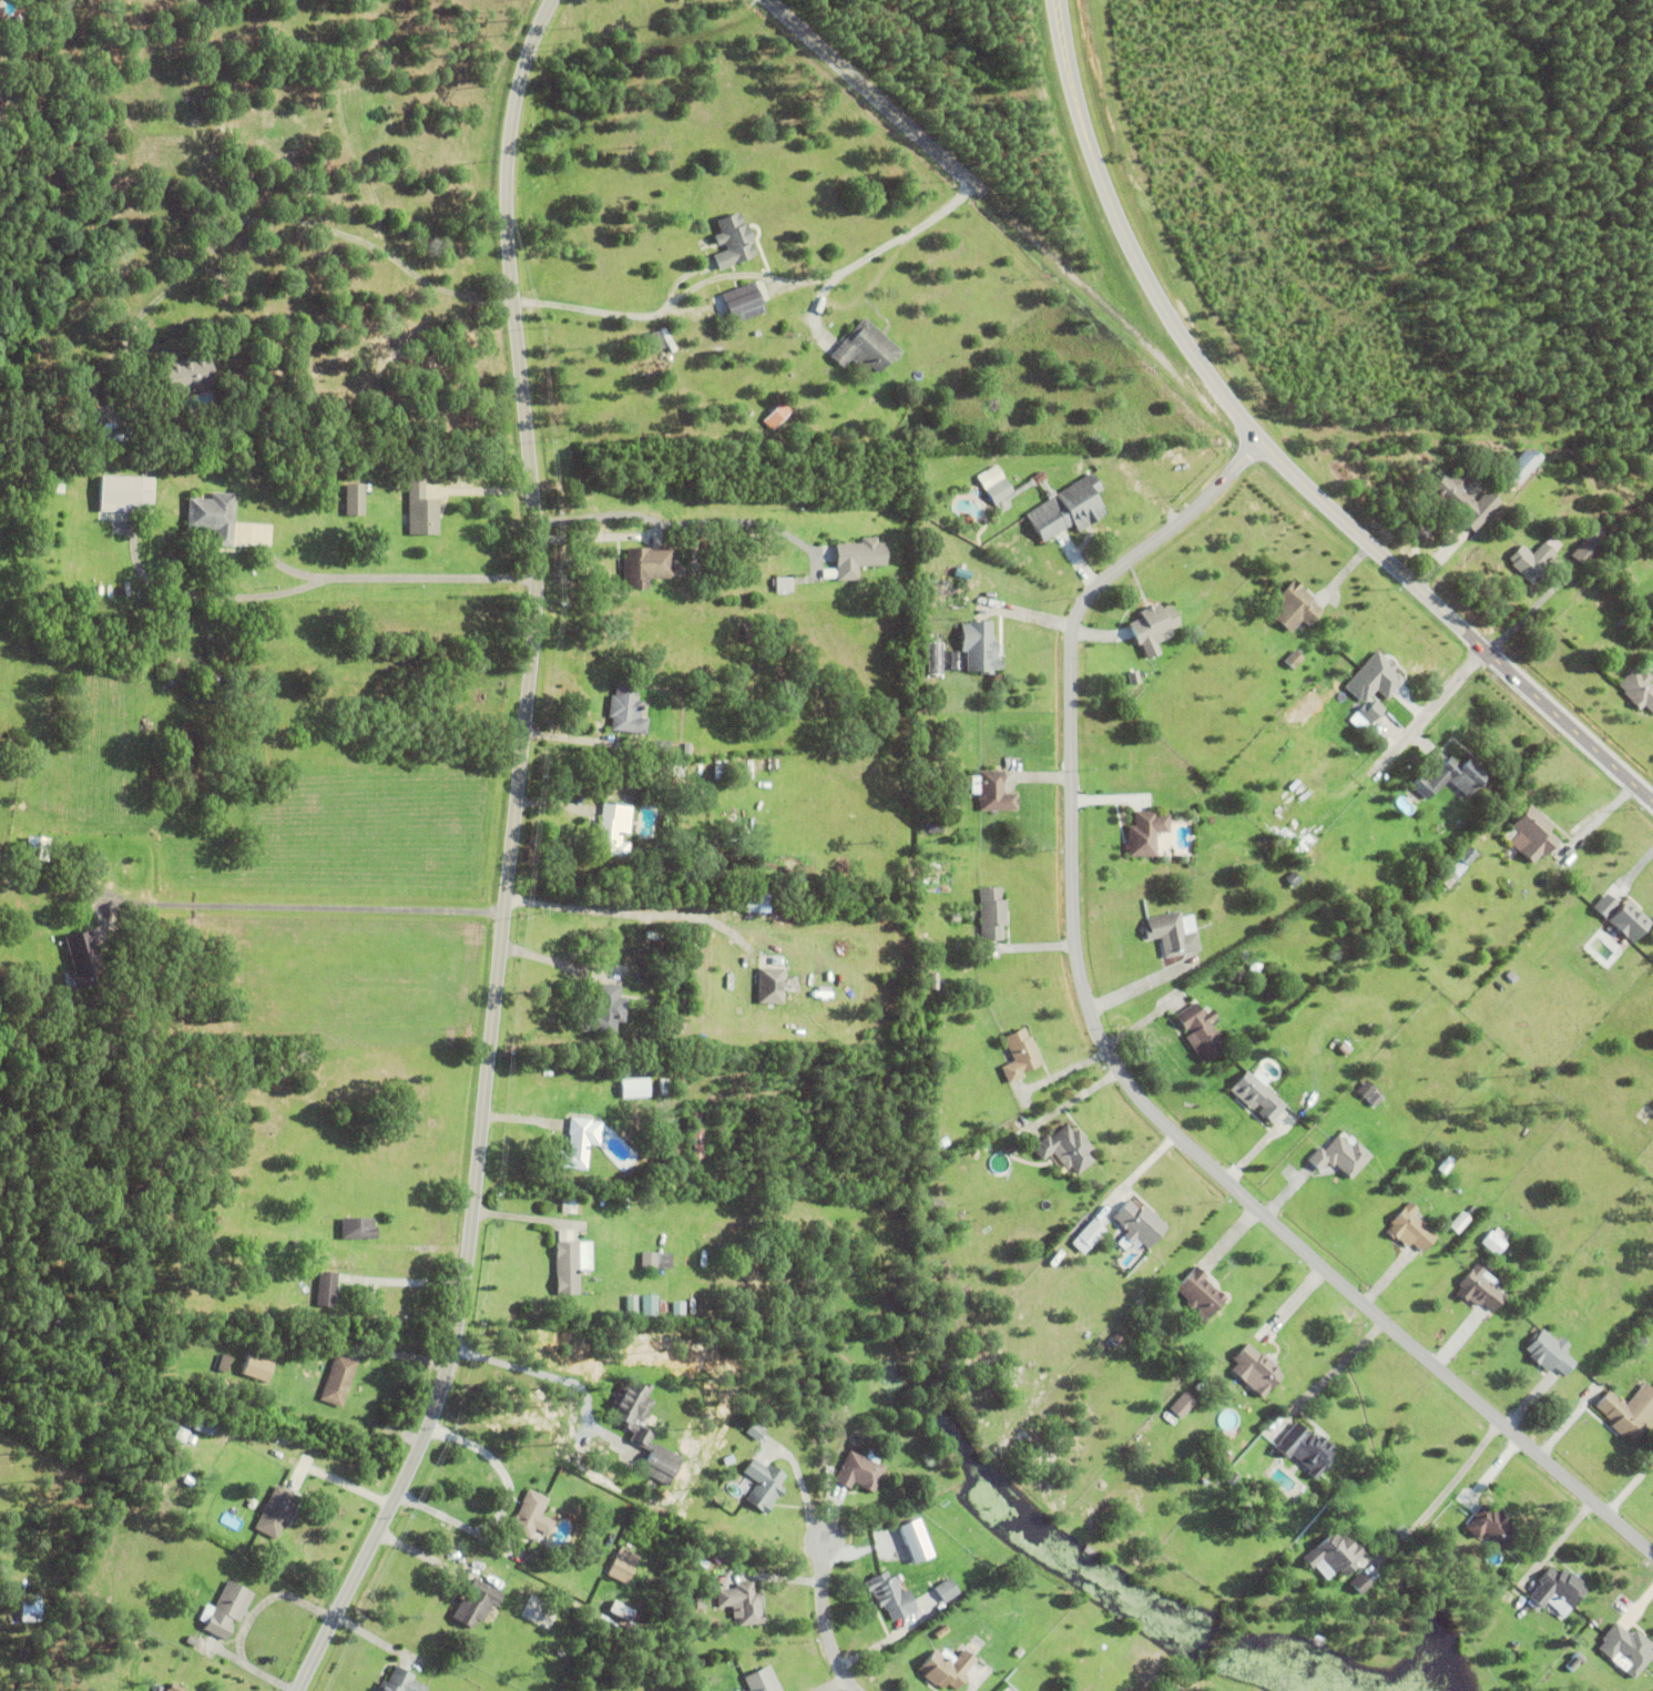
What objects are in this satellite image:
building: (0, 24)
road: (869, 92)
building: (732, 238)
road: (747, 271)
building: (743, 300)
building: (667, 338)
building: (654, 339)
building: (866, 345)
building: (187, 371)
building: (776, 420)
building: (115, 430)
road: (1273, 456)
building: (1520, 466)
building: (998, 489)
building: (126, 491)
building: (355, 497)
building: (1462, 499)
building: (1068, 507)
building: (422, 508)
building: (214, 515)
road: (682, 521)
building: (1588, 549)
building: (857, 556)
building: (1532, 560)
building: (646, 564)
road: (382, 577)
building: (783, 583)
road: (211, 597)
building: (1296, 605)
building: (1154, 625)
building: (751, 631)
building: (979, 645)
building: (935, 659)
building: (1294, 659)
building: (1134, 676)
building: (213, 679)
building: (1370, 679)
building: (1381, 687)
building: (1639, 687)
building: (626, 709)
building: (661, 747)
building: (187, 748)
road: (1389, 748)
building: (722, 771)
building: (1451, 776)
building: (993, 791)
building: (1165, 799)
building: (927, 804)
building: (612, 829)
building: (1146, 832)
building: (1533, 833)
building: (42, 844)
building: (1315, 856)
road: (502, 859)
building: (1459, 865)
building: (1294, 878)
building: (757, 901)
road: (302, 904)
road: (631, 908)
building: (992, 913)
building: (1622, 915)
building: (1172, 934)
building: (624, 953)
building: (84, 958)
building: (929, 958)
building: (1256, 967)
building: (1239, 976)
building: (771, 985)
building: (1268, 996)
building: (605, 1009)
building: (1202, 1031)
building: (1020, 1055)
road: (1116, 1068)
building: (664, 1087)
building: (1366, 1089)
building: (1257, 1093)
building: (1375, 1099)
building: (675, 1124)
building: (697, 1137)
building: (579, 1142)
building: (1067, 1149)
building: (1341, 1155)
building: (1445, 1167)
building: (937, 1203)
building: (570, 1204)
building: (1460, 1222)
building: (1137, 1224)
building: (359, 1227)
building: (1411, 1229)
building: (1090, 1233)
building: (1498, 1233)
building: (1490, 1242)
building: (1542, 1253)
building: (656, 1260)
building: (571, 1265)
building: (1599, 1277)
road: (400, 1280)
building: (327, 1288)
building: (1481, 1288)
building: (1201, 1294)
building: (632, 1303)
building: (650, 1305)
building: (661, 1307)
building: (676, 1311)
building: (1116, 1339)
building: (1550, 1352)
building: (257, 1367)
building: (1256, 1369)
road: (549, 1373)
building: (339, 1381)
building: (837, 1384)
building: (1183, 1405)
building: (1629, 1410)
building: (643, 1429)
building: (755, 1432)
building: (181, 1435)
building: (1306, 1449)
road: (476, 1453)
building: (860, 1470)
building: (764, 1485)
road: (1442, 1493)
building: (1460, 1497)
building: (277, 1512)
building: (532, 1518)
building: (1491, 1526)
building: (920, 1540)
building: (1334, 1556)
building: (695, 1560)
building: (619, 1567)
building: (1360, 1585)
building: (945, 1588)
building: (1559, 1591)
building: (891, 1595)
building: (476, 1603)
building: (743, 1603)
building: (701, 1605)
road: (827, 1609)
building: (228, 1610)
building: (932, 1612)
building: (33, 1613)
building: (192, 1641)
building: (1618, 1647)
building: (1557, 1650)
building: (25, 1653)
building: (1574, 1662)
building: (947, 1669)
building: (21, 1672)
building: (157, 1678)
building: (763, 1680)
building: (401, 1682)
building: (176, 1688)

